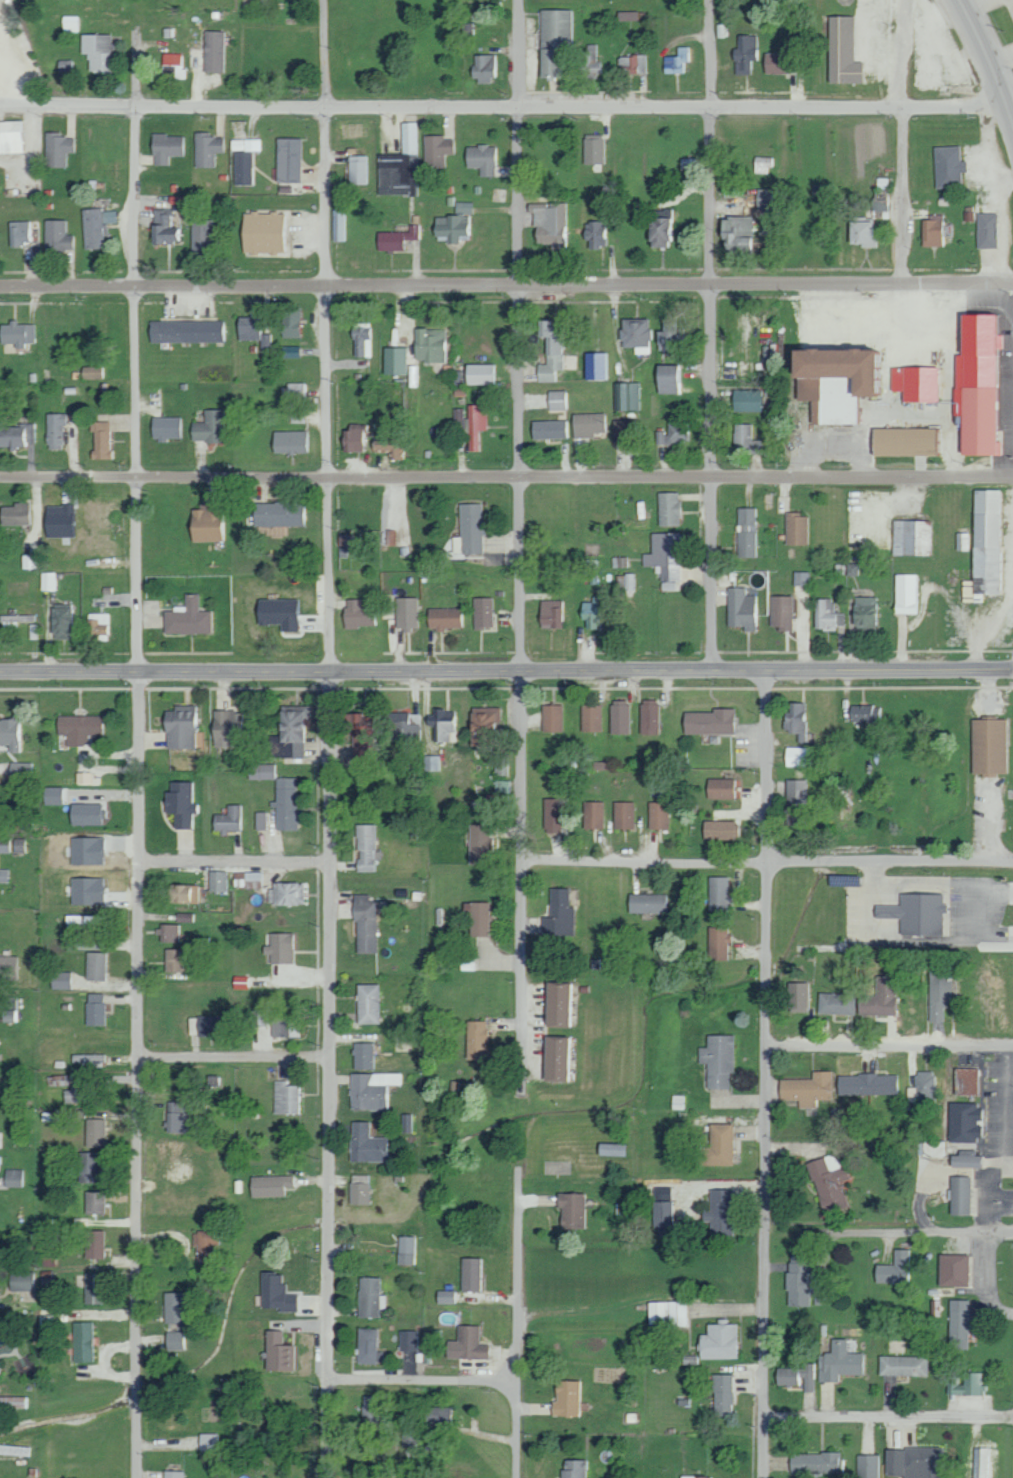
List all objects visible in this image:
building: (628, 15)
building: (557, 27)
building: (212, 50)
building: (97, 51)
building: (842, 51)
building: (746, 54)
building: (678, 60)
building: (591, 61)
building: (550, 62)
building: (778, 63)
building: (633, 64)
road: (988, 64)
building: (172, 66)
building: (484, 68)
road: (913, 96)
road: (506, 108)
building: (11, 136)
road: (327, 143)
building: (167, 147)
building: (56, 148)
building: (594, 148)
building: (207, 149)
building: (438, 150)
building: (245, 159)
building: (484, 159)
building: (288, 160)
building: (402, 162)
building: (763, 163)
building: (947, 166)
building: (360, 169)
building: (465, 207)
building: (109, 216)
building: (551, 224)
building: (342, 225)
building: (165, 227)
building: (659, 227)
building: (93, 228)
building: (452, 228)
building: (986, 230)
building: (932, 231)
building: (21, 232)
building: (263, 232)
building: (862, 232)
building: (596, 233)
building: (200, 234)
building: (736, 234)
building: (57, 236)
building: (397, 238)
road: (506, 286)
building: (291, 323)
road: (414, 327)
building: (248, 328)
building: (186, 331)
building: (16, 333)
road: (526, 334)
building: (636, 334)
road: (714, 334)
building: (671, 338)
building: (364, 340)
building: (430, 344)
road: (135, 347)
building: (551, 350)
building: (291, 351)
building: (395, 360)
building: (597, 365)
building: (93, 372)
building: (481, 373)
building: (669, 379)
road: (630, 381)
building: (834, 381)
building: (915, 383)
building: (975, 384)
building: (298, 392)
building: (629, 396)
building: (559, 399)
building: (746, 400)
building: (299, 416)
building: (460, 418)
building: (476, 424)
building: (588, 424)
building: (167, 427)
building: (206, 427)
building: (624, 428)
building: (548, 429)
building: (54, 431)
building: (673, 433)
building: (17, 435)
building: (355, 437)
building: (745, 439)
building: (100, 440)
building: (291, 441)
building: (904, 442)
building: (389, 446)
road: (506, 476)
road: (331, 478)
building: (668, 509)
building: (14, 514)
building: (277, 514)
building: (60, 520)
building: (205, 523)
building: (796, 528)
building: (470, 529)
building: (401, 532)
building: (746, 532)
building: (912, 537)
building: (984, 544)
building: (665, 558)
building: (30, 561)
road: (409, 575)
building: (802, 578)
building: (49, 581)
building: (630, 581)
building: (907, 593)
building: (740, 609)
building: (863, 611)
building: (482, 612)
building: (781, 612)
building: (278, 613)
building: (406, 613)
building: (550, 613)
building: (593, 613)
building: (357, 614)
building: (829, 615)
building: (187, 618)
building: (443, 618)
building: (16, 620)
building: (60, 622)
building: (99, 626)
road: (506, 670)
building: (863, 714)
building: (620, 716)
building: (649, 716)
building: (592, 717)
building: (552, 718)
building: (794, 718)
building: (710, 722)
building: (445, 725)
building: (403, 726)
building: (179, 727)
building: (224, 727)
building: (78, 728)
building: (11, 734)
building: (289, 734)
building: (357, 736)
building: (987, 746)
building: (798, 756)
road: (525, 758)
building: (432, 762)
building: (502, 764)
building: (21, 769)
building: (261, 771)
building: (85, 778)
building: (719, 788)
building: (51, 795)
building: (795, 801)
building: (179, 804)
building: (286, 805)
building: (86, 813)
building: (552, 815)
building: (593, 815)
building: (623, 815)
building: (658, 815)
building: (229, 819)
building: (260, 820)
road: (987, 821)
building: (719, 830)
building: (4, 845)
building: (18, 845)
building: (478, 845)
building: (86, 850)
road: (526, 854)
road: (69, 856)
road: (770, 861)
road: (234, 865)
building: (3, 875)
building: (246, 879)
building: (216, 881)
building: (86, 891)
building: (285, 893)
building: (718, 893)
building: (180, 894)
building: (645, 903)
building: (558, 914)
building: (915, 914)
building: (183, 917)
building: (476, 918)
building: (84, 921)
building: (364, 922)
building: (170, 933)
building: (717, 943)
building: (279, 949)
building: (172, 960)
building: (94, 966)
building: (9, 967)
building: (61, 980)
building: (938, 990)
building: (797, 997)
building: (879, 998)
building: (835, 1003)
building: (366, 1004)
building: (554, 1005)
building: (7, 1007)
building: (93, 1009)
building: (257, 1017)
building: (207, 1025)
building: (284, 1026)
building: (474, 1039)
road: (892, 1047)
road: (234, 1055)
building: (362, 1056)
building: (88, 1058)
building: (554, 1059)
building: (716, 1060)
road: (100, 1061)
road: (136, 1074)
road: (331, 1074)
road: (770, 1074)
building: (965, 1081)
building: (866, 1084)
building: (924, 1086)
building: (806, 1088)
building: (371, 1090)
building: (911, 1094)
building: (284, 1098)
building: (176, 1122)
building: (963, 1122)
building: (94, 1132)
building: (1, 1139)
building: (364, 1144)
building: (716, 1146)
building: (609, 1149)
building: (964, 1159)
building: (88, 1166)
road: (522, 1170)
building: (14, 1177)
building: (827, 1182)
building: (269, 1185)
building: (357, 1189)
road: (712, 1192)
building: (959, 1195)
building: (93, 1201)
building: (569, 1209)
building: (718, 1212)
road: (943, 1231)
building: (204, 1243)
building: (94, 1244)
building: (404, 1250)
building: (895, 1268)
building: (952, 1269)
building: (468, 1274)
building: (22, 1280)
building: (796, 1280)
building: (93, 1288)
building: (275, 1293)
building: (368, 1296)
building: (444, 1297)
building: (173, 1307)
road: (639, 1312)
building: (666, 1313)
building: (959, 1324)
building: (174, 1340)
building: (407, 1340)
building: (82, 1341)
building: (717, 1341)
building: (466, 1344)
building: (366, 1345)
park: (23, 1349)
building: (277, 1352)
building: (838, 1362)
building: (903, 1365)
building: (796, 1376)
road: (425, 1380)
building: (966, 1384)
building: (721, 1394)
building: (564, 1398)
building: (374, 1416)
road: (888, 1416)
building: (437, 1417)
building: (209, 1442)
building: (9, 1449)
building: (914, 1462)
building: (979, 1462)
building: (814, 1464)
building: (868, 1466)
building: (572, 1468)
building: (173, 1474)
building: (694, 1476)

